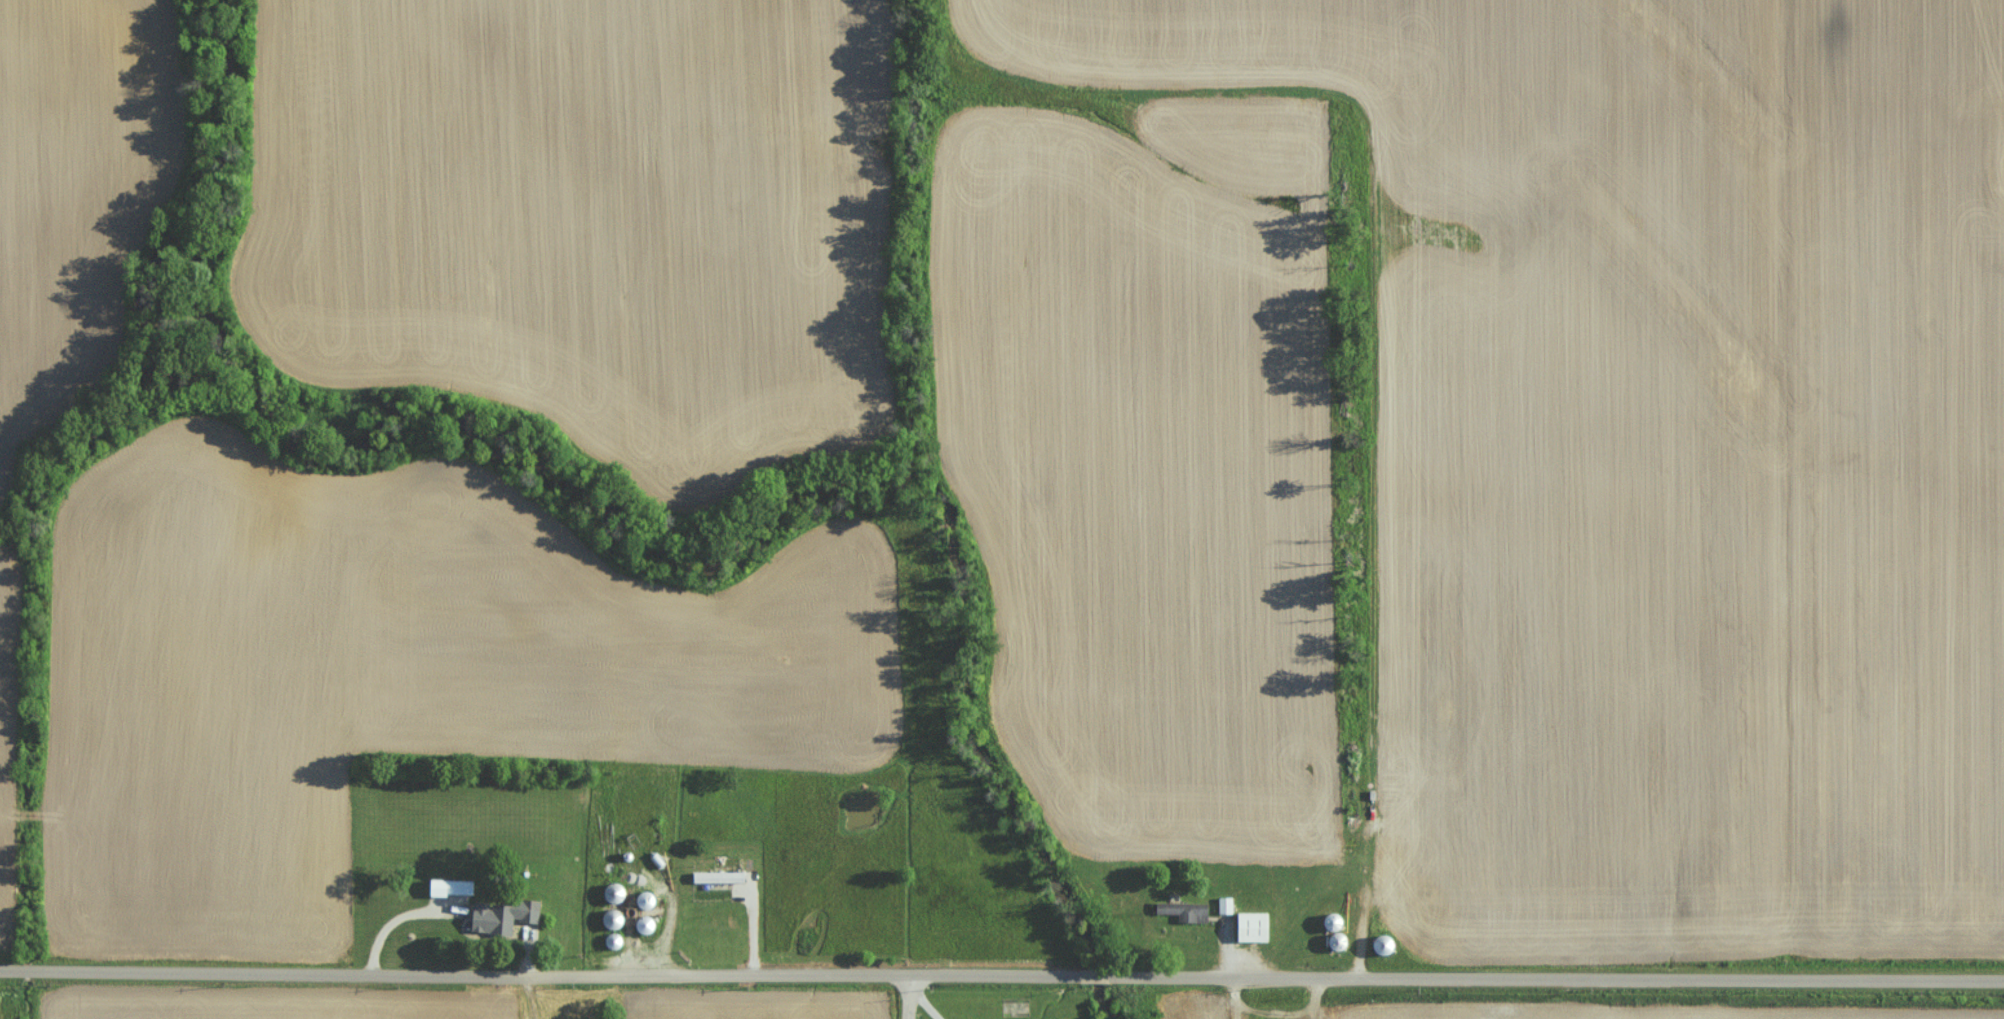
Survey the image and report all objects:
building: (715, 877)
building: (448, 887)
building: (1224, 905)
building: (1183, 910)
building: (500, 915)
building: (1250, 927)
road: (1002, 971)
road: (926, 995)

